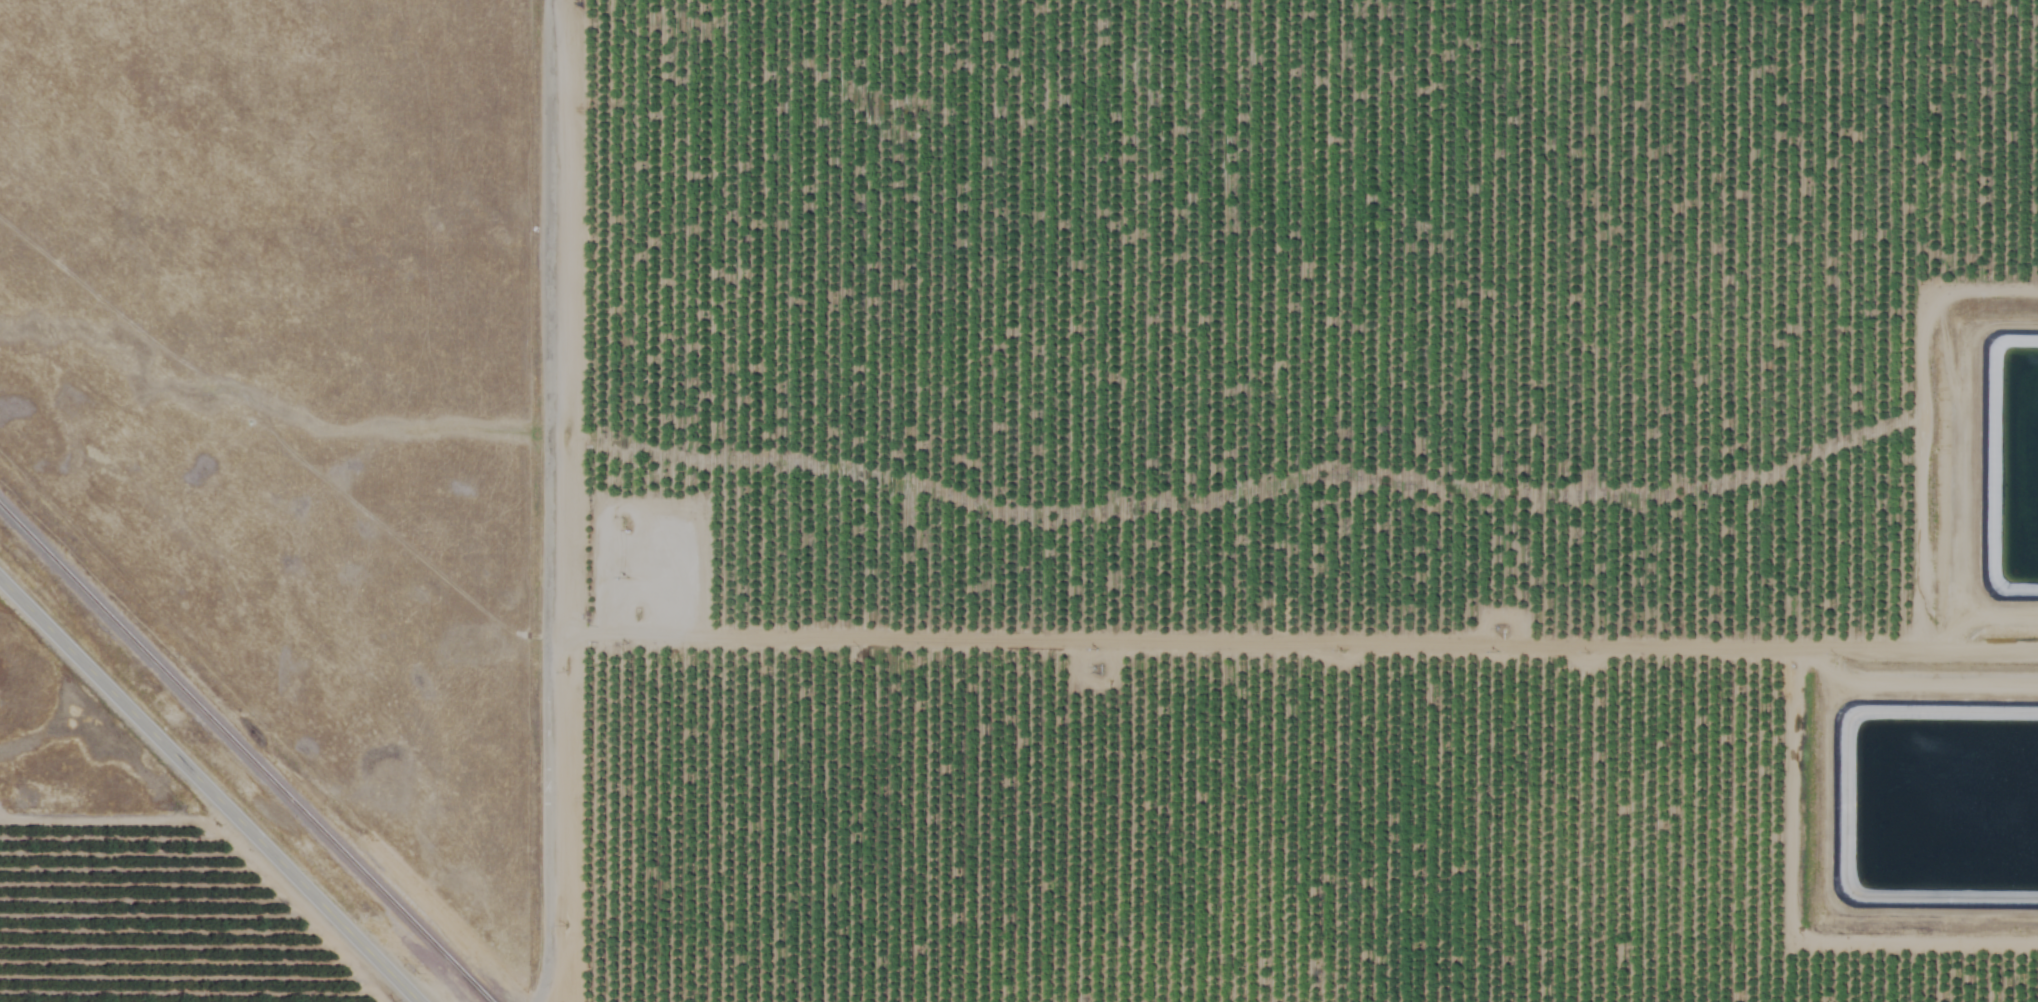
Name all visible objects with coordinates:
crop: (1260, 487)
road: (553, 501)
railway: (244, 755)
road: (207, 792)
crop: (177, 908)

